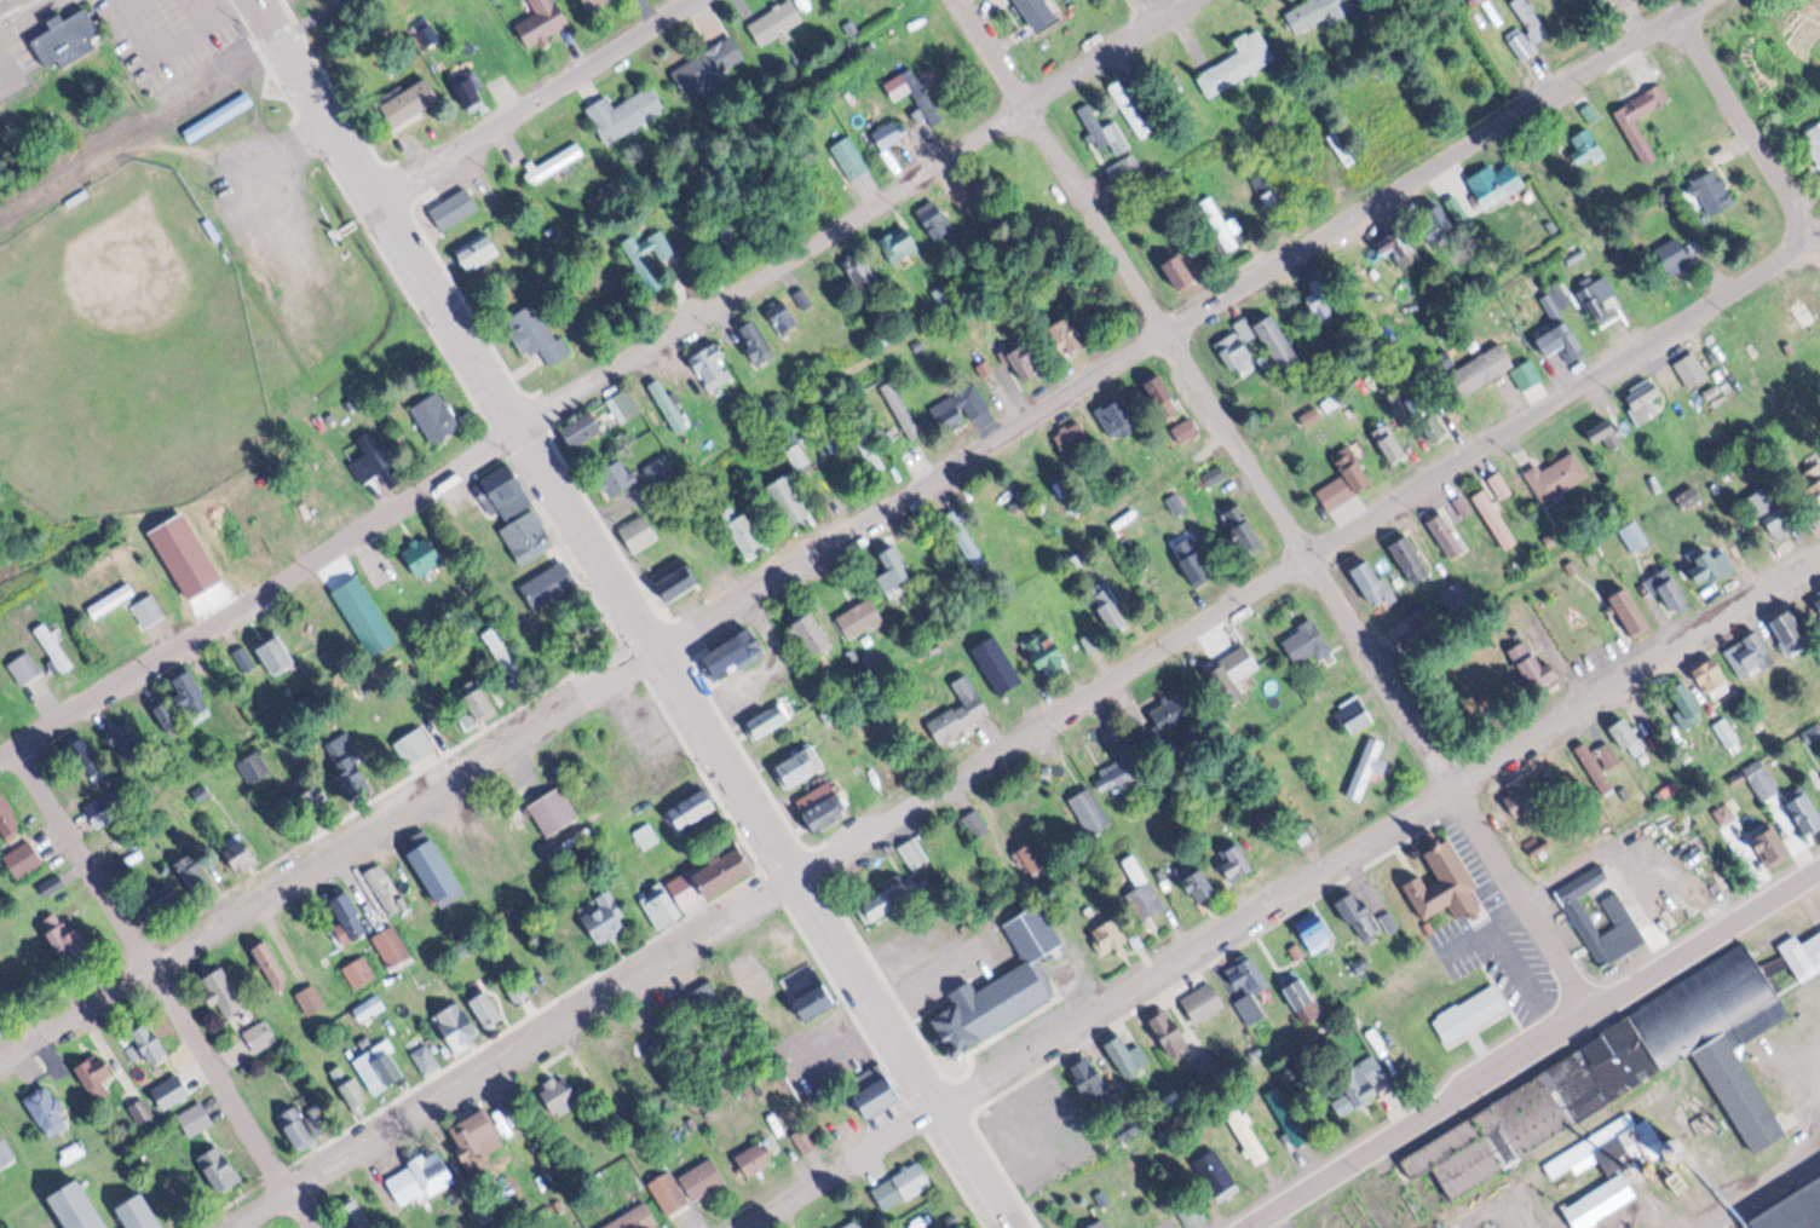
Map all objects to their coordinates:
building: (1473, 0)
building: (1590, 0)
building: (1624, 2)
building: (600, 4)
building: (1036, 11)
building: (1308, 11)
building: (1528, 16)
building: (549, 19)
building: (781, 21)
building: (67, 35)
building: (1517, 38)
building: (1236, 59)
building: (716, 60)
building: (471, 86)
building: (923, 92)
road: (536, 97)
building: (413, 102)
building: (1127, 104)
building: (628, 111)
building: (1595, 113)
building: (221, 115)
road: (1751, 122)
building: (1101, 128)
building: (1405, 132)
building: (899, 134)
building: (1640, 137)
building: (1814, 140)
building: (1585, 149)
building: (1350, 154)
building: (859, 157)
building: (560, 162)
building: (1123, 163)
building: (1493, 181)
building: (1712, 190)
building: (819, 197)
building: (459, 207)
building: (945, 219)
building: (1438, 223)
building: (1225, 224)
building: (733, 234)
building: (908, 241)
building: (1399, 242)
building: (483, 252)
building: (1676, 255)
building: (1186, 270)
building: (653, 271)
road: (1769, 271)
building: (874, 277)
building: (955, 294)
building: (1602, 296)
building: (1325, 305)
building: (793, 315)
building: (1251, 328)
building: (535, 329)
building: (1396, 331)
building: (1560, 336)
building: (1070, 338)
building: (762, 339)
building: (1280, 341)
building: (1244, 350)
building: (846, 353)
park: (127, 354)
building: (714, 359)
building: (1031, 361)
building: (1485, 369)
building: (1695, 369)
building: (1531, 374)
road: (599, 380)
building: (1169, 397)
building: (1643, 397)
building: (973, 403)
building: (633, 405)
building: (675, 405)
building: (915, 409)
building: (1127, 413)
building: (438, 417)
building: (1438, 422)
building: (1603, 428)
building: (587, 429)
building: (1194, 429)
building: (1081, 436)
building: (834, 444)
building: (877, 446)
building: (1395, 446)
building: (807, 457)
building: (376, 460)
building: (1223, 474)
building: (1560, 474)
building: (623, 477)
building: (1349, 480)
building: (1504, 483)
building: (508, 490)
building: (795, 497)
building: (1187, 503)
road: (1272, 506)
building: (1469, 506)
building: (1785, 511)
building: (1498, 518)
building: (1248, 527)
building: (747, 529)
road: (853, 529)
building: (641, 532)
building: (1447, 534)
building: (531, 535)
building: (1636, 535)
building: (975, 538)
building: (427, 554)
building: (1412, 557)
building: (1199, 561)
building: (1709, 564)
building: (899, 570)
building: (554, 575)
building: (680, 581)
building: (1372, 581)
building: (1670, 589)
building: (115, 600)
building: (1815, 600)
building: (1117, 609)
building: (1625, 609)
building: (150, 610)
road: (645, 612)
building: (363, 615)
building: (872, 617)
building: (816, 630)
building: (1784, 630)
building: (1311, 640)
building: (1104, 641)
building: (53, 646)
building: (502, 648)
building: (1052, 651)
building: (737, 652)
building: (271, 653)
building: (1746, 655)
building: (244, 658)
building: (995, 664)
building: (27, 667)
building: (1532, 668)
building: (1237, 674)
building: (1710, 679)
building: (188, 691)
building: (478, 694)
building: (1682, 698)
building: (161, 709)
building: (966, 709)
building: (1165, 711)
building: (1363, 713)
building: (774, 717)
building: (1182, 721)
building: (120, 732)
building: (1729, 734)
building: (1626, 736)
building: (415, 743)
building: (79, 749)
building: (344, 760)
building: (1597, 763)
building: (802, 765)
road: (978, 765)
building: (255, 767)
building: (1365, 768)
building: (1112, 776)
building: (1761, 780)
building: (205, 794)
building: (1088, 808)
building: (102, 809)
building: (692, 809)
building: (1799, 809)
building: (553, 812)
building: (829, 812)
building: (5, 820)
building: (981, 821)
building: (651, 835)
building: (1767, 846)
building: (918, 852)
building: (238, 853)
building: (1032, 858)
building: (18, 859)
building: (1236, 861)
building: (436, 872)
building: (191, 874)
building: (709, 874)
building: (1442, 882)
building: (1198, 883)
building: (54, 884)
building: (381, 887)
building: (1145, 888)
road: (1284, 895)
building: (161, 901)
building: (879, 904)
building: (662, 906)
building: (1357, 911)
building: (1618, 912)
building: (607, 913)
building: (349, 917)
building: (1317, 934)
building: (1110, 935)
building: (61, 941)
building: (391, 944)
building: (267, 963)
building: (359, 970)
road: (175, 982)
building: (1245, 986)
building: (220, 988)
building: (812, 996)
building: (997, 996)
building: (312, 998)
building: (708, 999)
building: (1302, 999)
building: (1203, 1001)
building: (372, 1007)
building: (485, 1008)
building: (1473, 1011)
building: (460, 1025)
building: (1168, 1031)
building: (258, 1034)
building: (144, 1040)
road: (1532, 1048)
building: (425, 1054)
building: (1125, 1054)
building: (1634, 1063)
building: (380, 1066)
building: (1085, 1076)
building: (97, 1078)
building: (1361, 1083)
building: (351, 1085)
building: (167, 1090)
building: (559, 1092)
building: (875, 1095)
building: (45, 1107)
building: (143, 1111)
building: (195, 1115)
building: (1289, 1115)
building: (298, 1123)
building: (477, 1131)
building: (1246, 1132)
building: (807, 1140)
building: (6, 1151)
building: (754, 1159)
building: (1573, 1160)
building: (214, 1170)
building: (1215, 1174)
road: (1755, 1174)
building: (421, 1177)
building: (702, 1178)
building: (898, 1184)
building: (670, 1193)
building: (1601, 1200)
building: (76, 1207)
building: (1791, 1209)
building: (138, 1212)
building: (356, 1213)
building: (634, 1217)
building: (849, 1223)
building: (1101, 1224)

